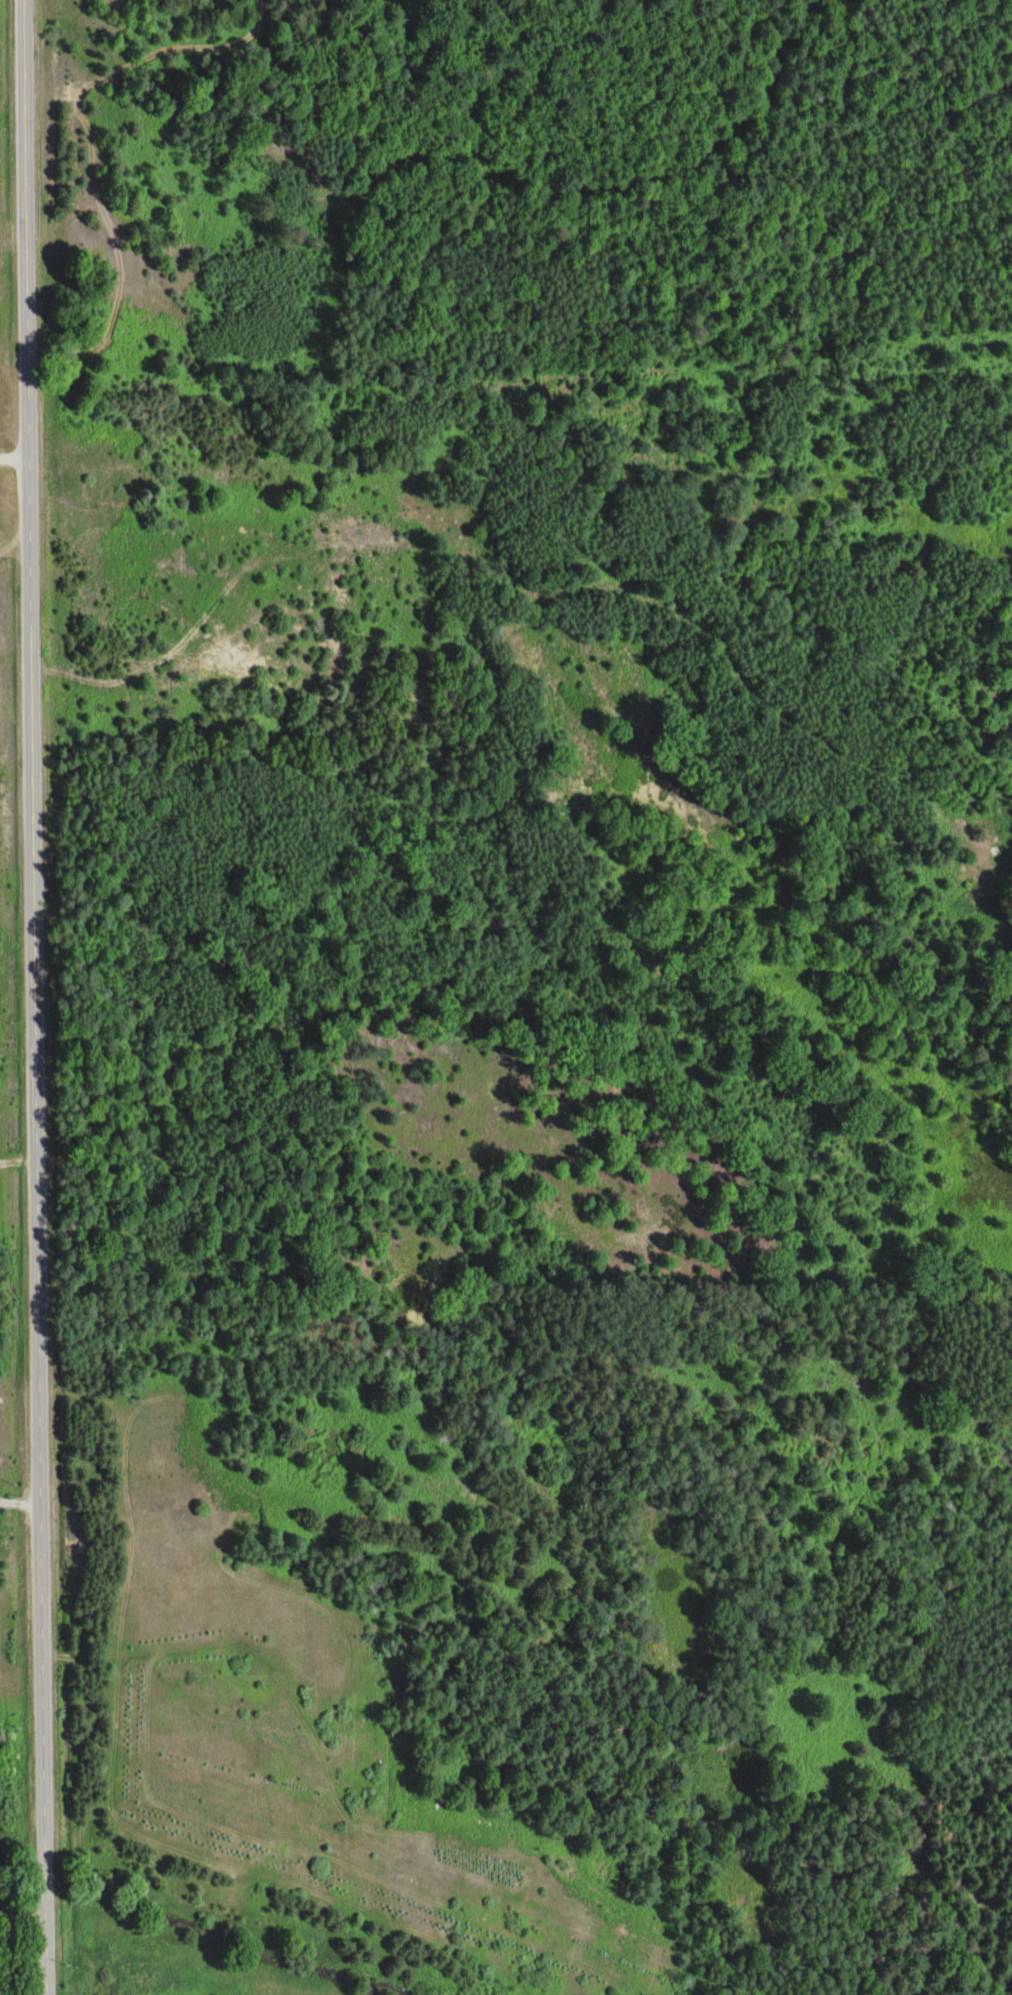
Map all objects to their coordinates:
road: (31, 997)

